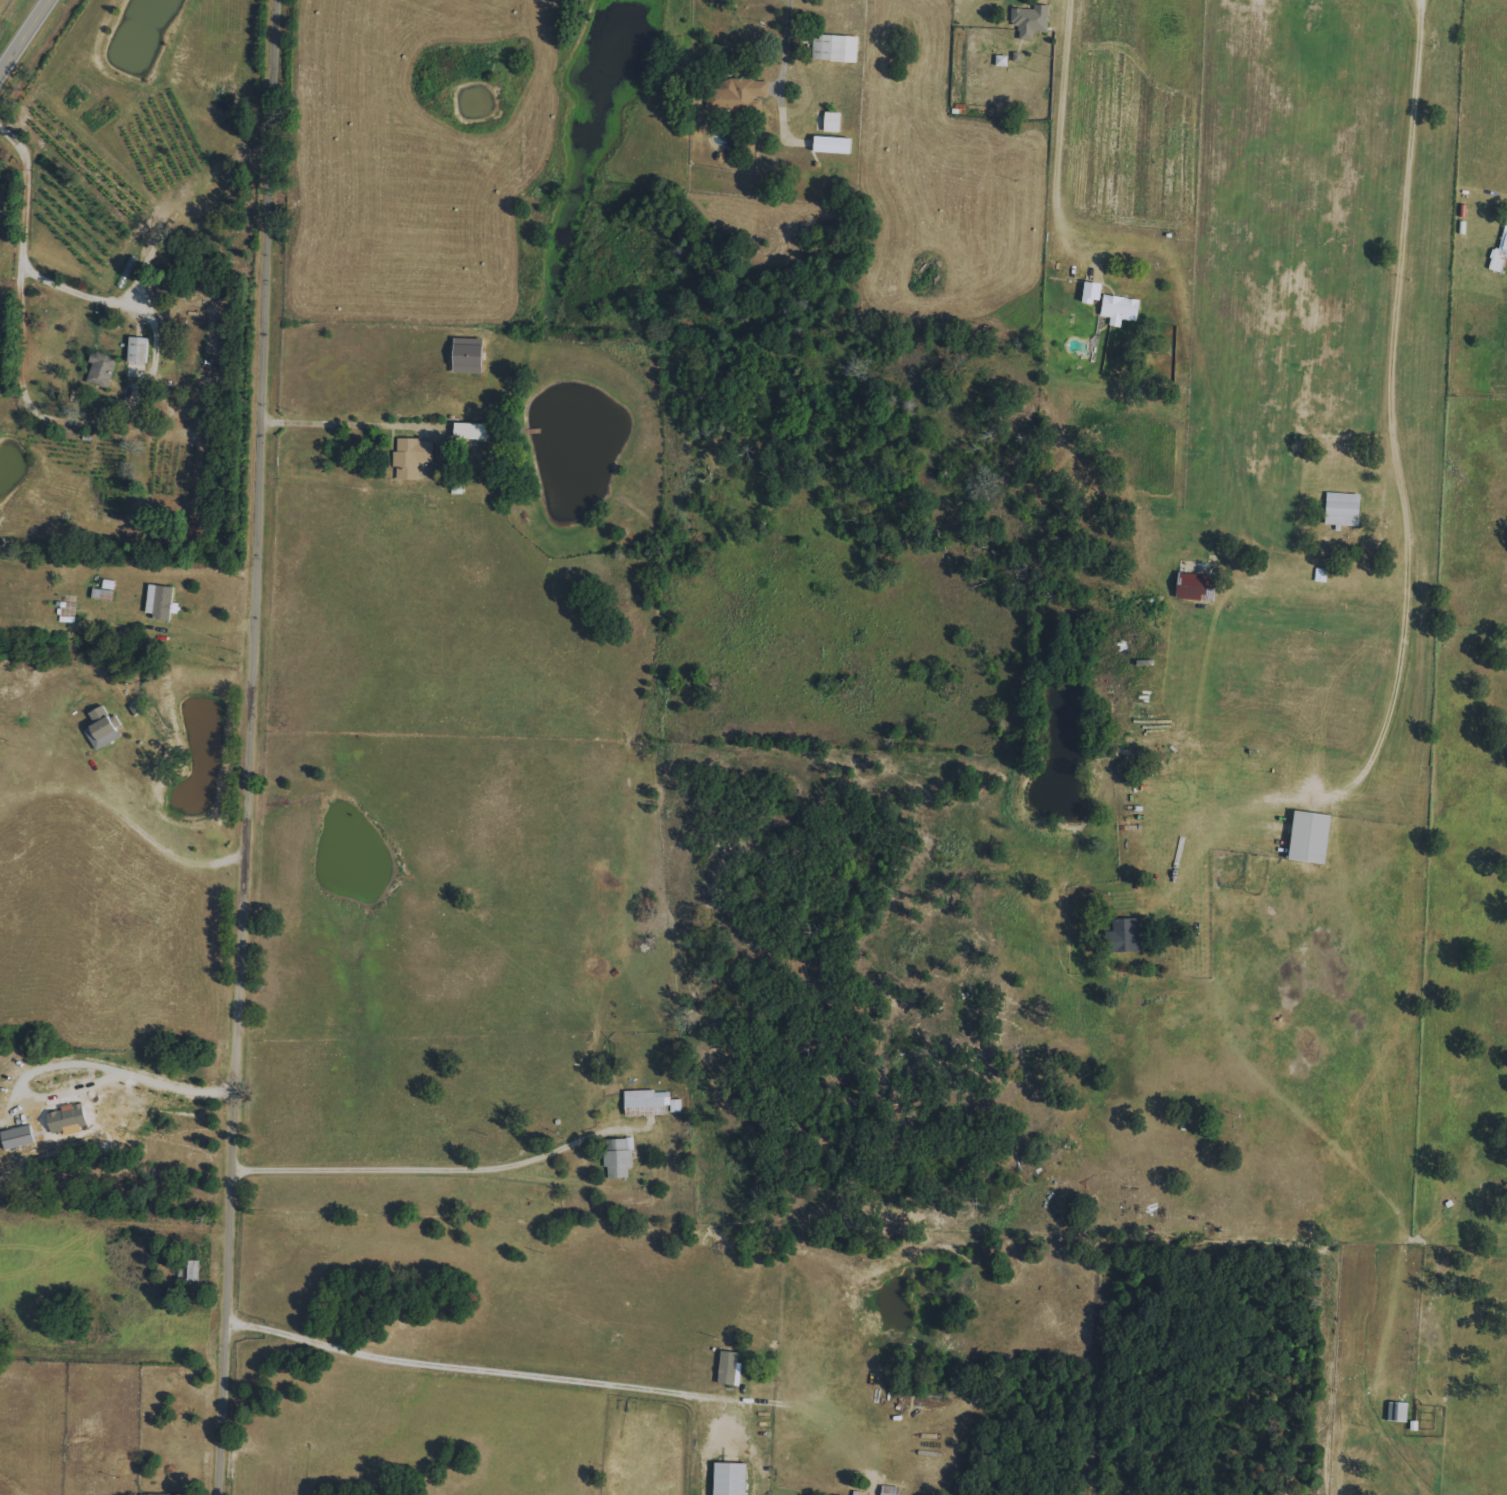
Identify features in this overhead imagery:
building: (1030, 21)
road: (785, 41)
road: (27, 42)
road: (902, 42)
building: (835, 48)
building: (743, 93)
building: (831, 122)
road: (1060, 123)
building: (832, 145)
road: (24, 190)
building: (1505, 246)
building: (1497, 261)
building: (1092, 291)
building: (1120, 309)
building: (137, 349)
building: (468, 355)
building: (101, 368)
building: (135, 370)
road: (119, 410)
road: (365, 417)
road: (1392, 420)
building: (470, 430)
building: (411, 457)
building: (1342, 509)
building: (1196, 586)
building: (159, 600)
building: (102, 728)
road: (254, 747)
road: (135, 806)
building: (1310, 837)
building: (1126, 935)
road: (69, 1063)
building: (650, 1103)
building: (17, 1137)
building: (618, 1157)
road: (427, 1165)
building: (191, 1270)
road: (473, 1369)
building: (729, 1369)
building: (730, 1479)
building: (889, 1490)
building: (151, 1494)

